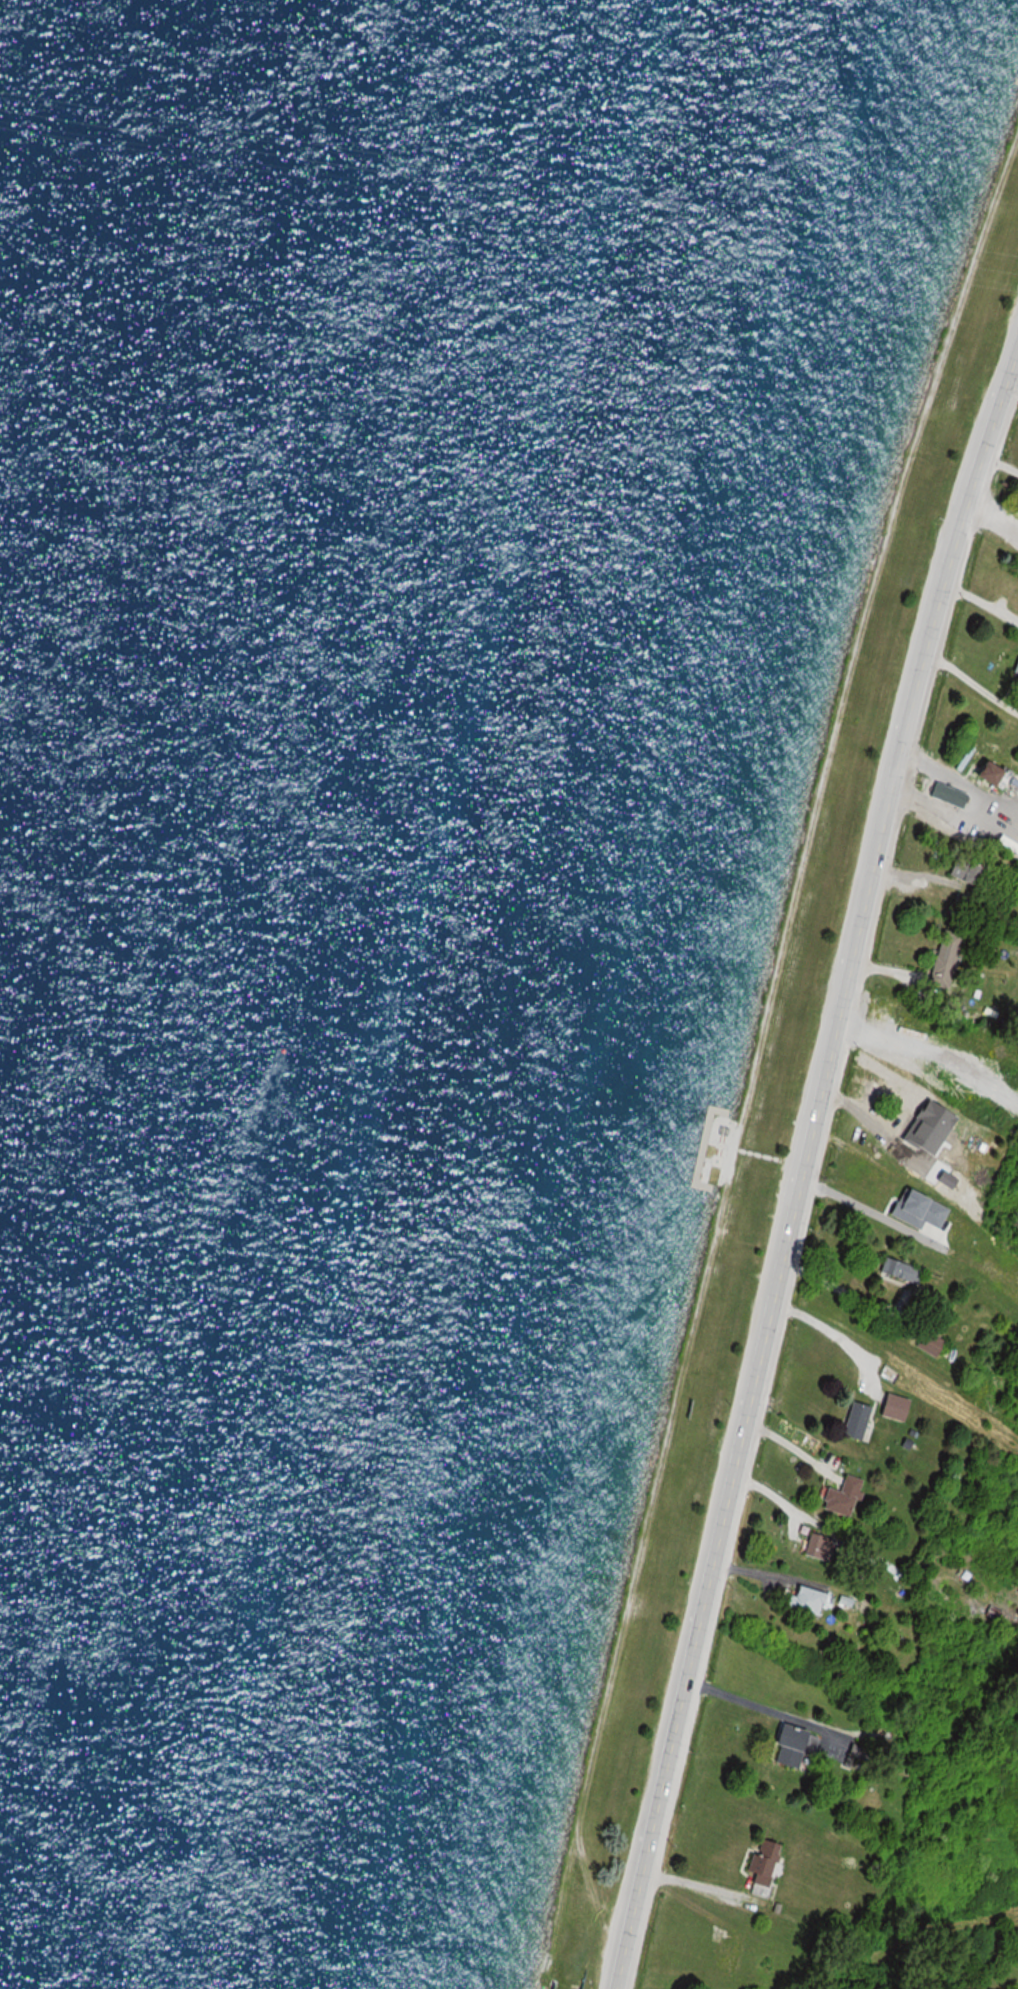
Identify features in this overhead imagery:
river: (155, 719)
road: (803, 1165)

